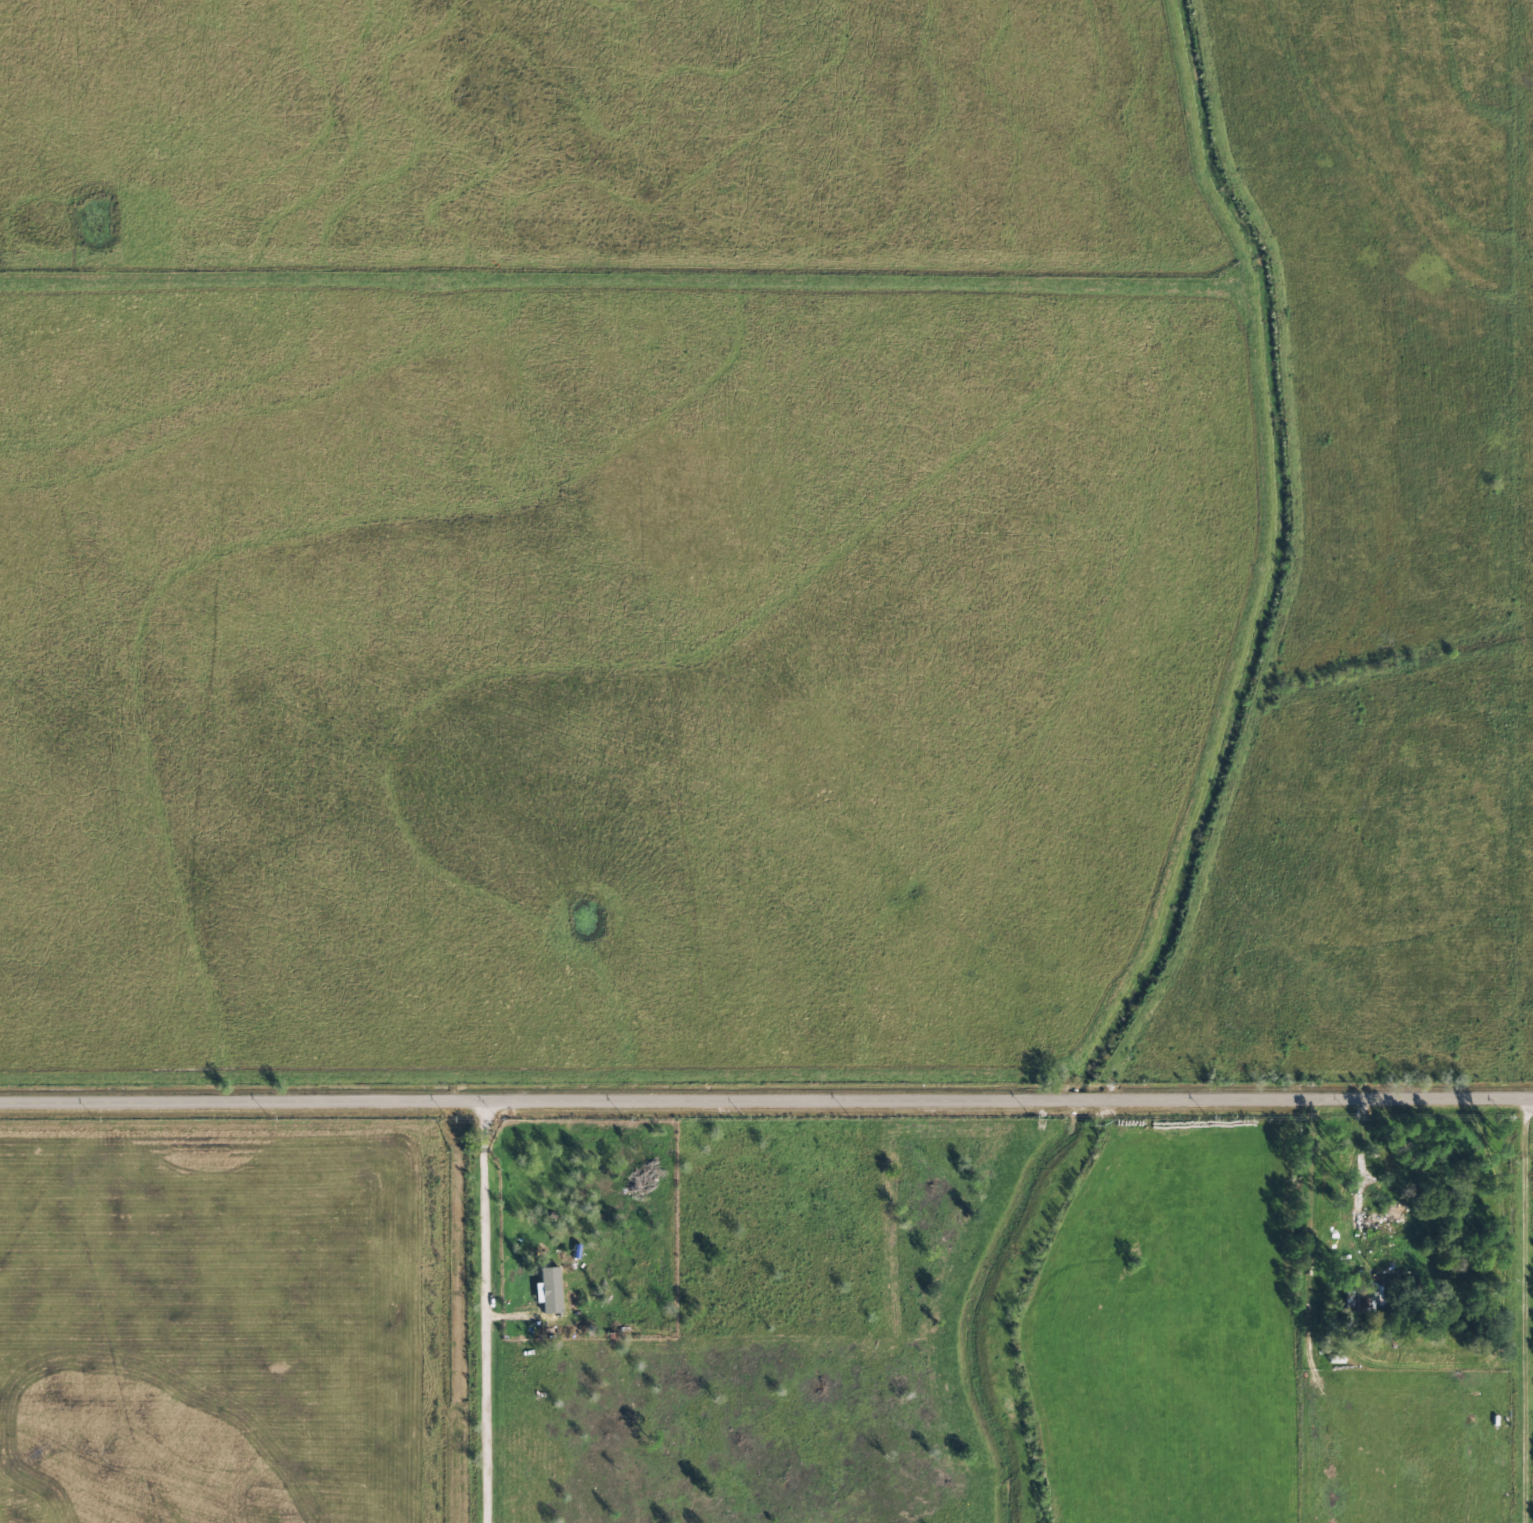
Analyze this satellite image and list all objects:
road: (766, 1101)
building: (548, 1288)
road: (482, 1312)
road: (1526, 1312)

